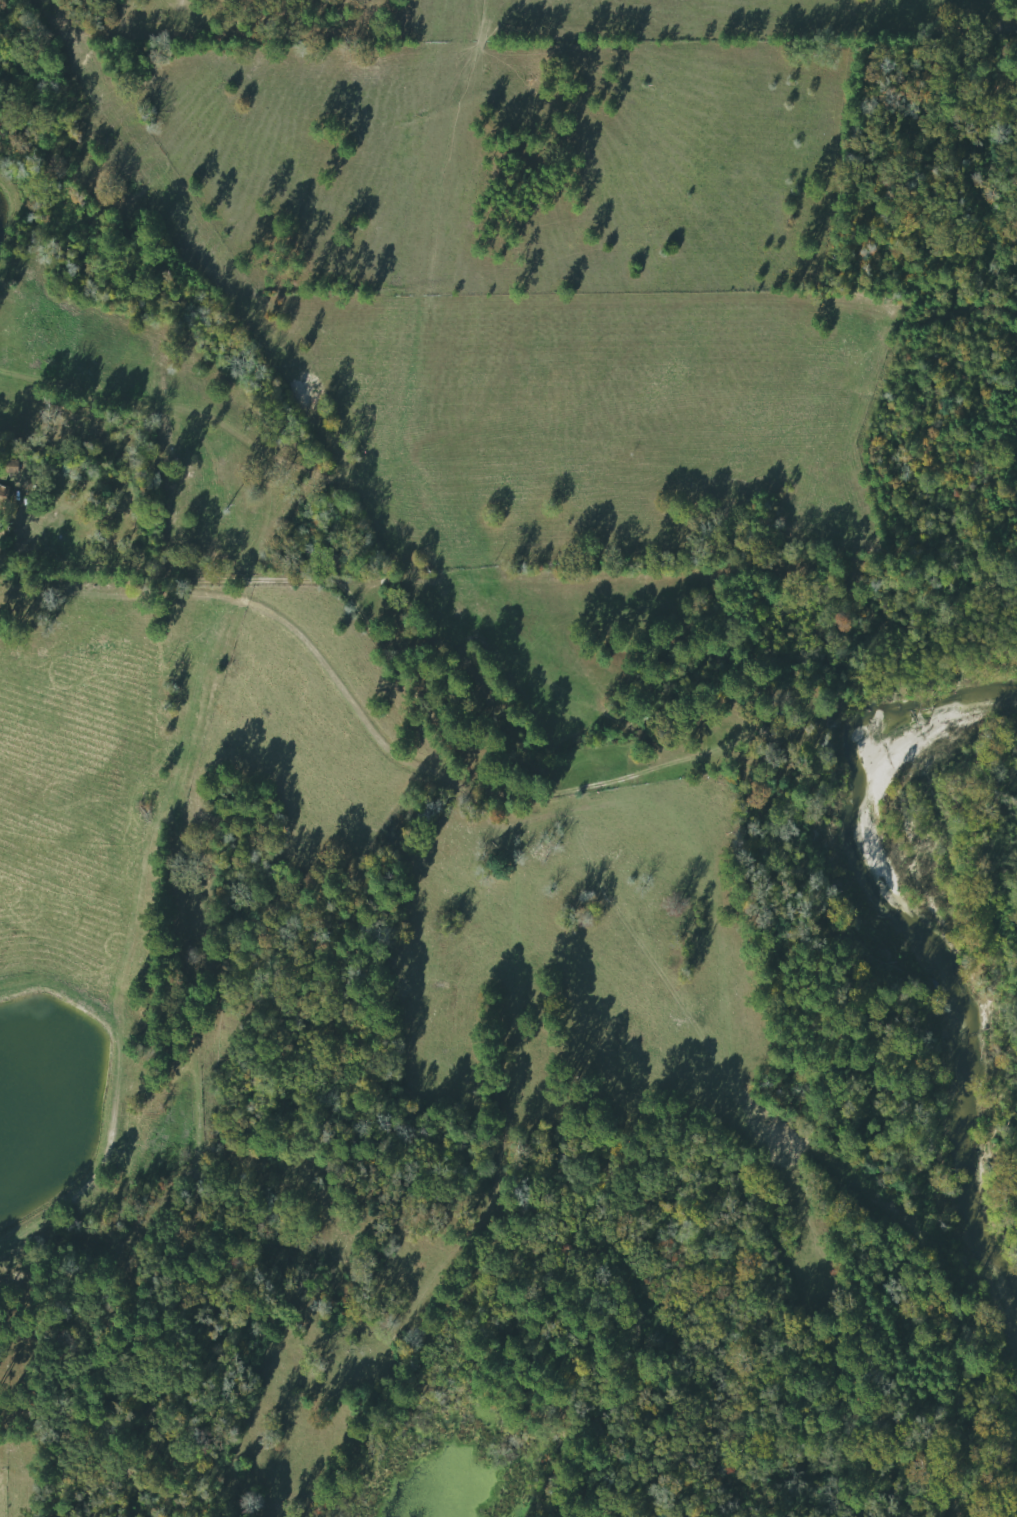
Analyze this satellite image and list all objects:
building: (4, 495)
road: (296, 579)

